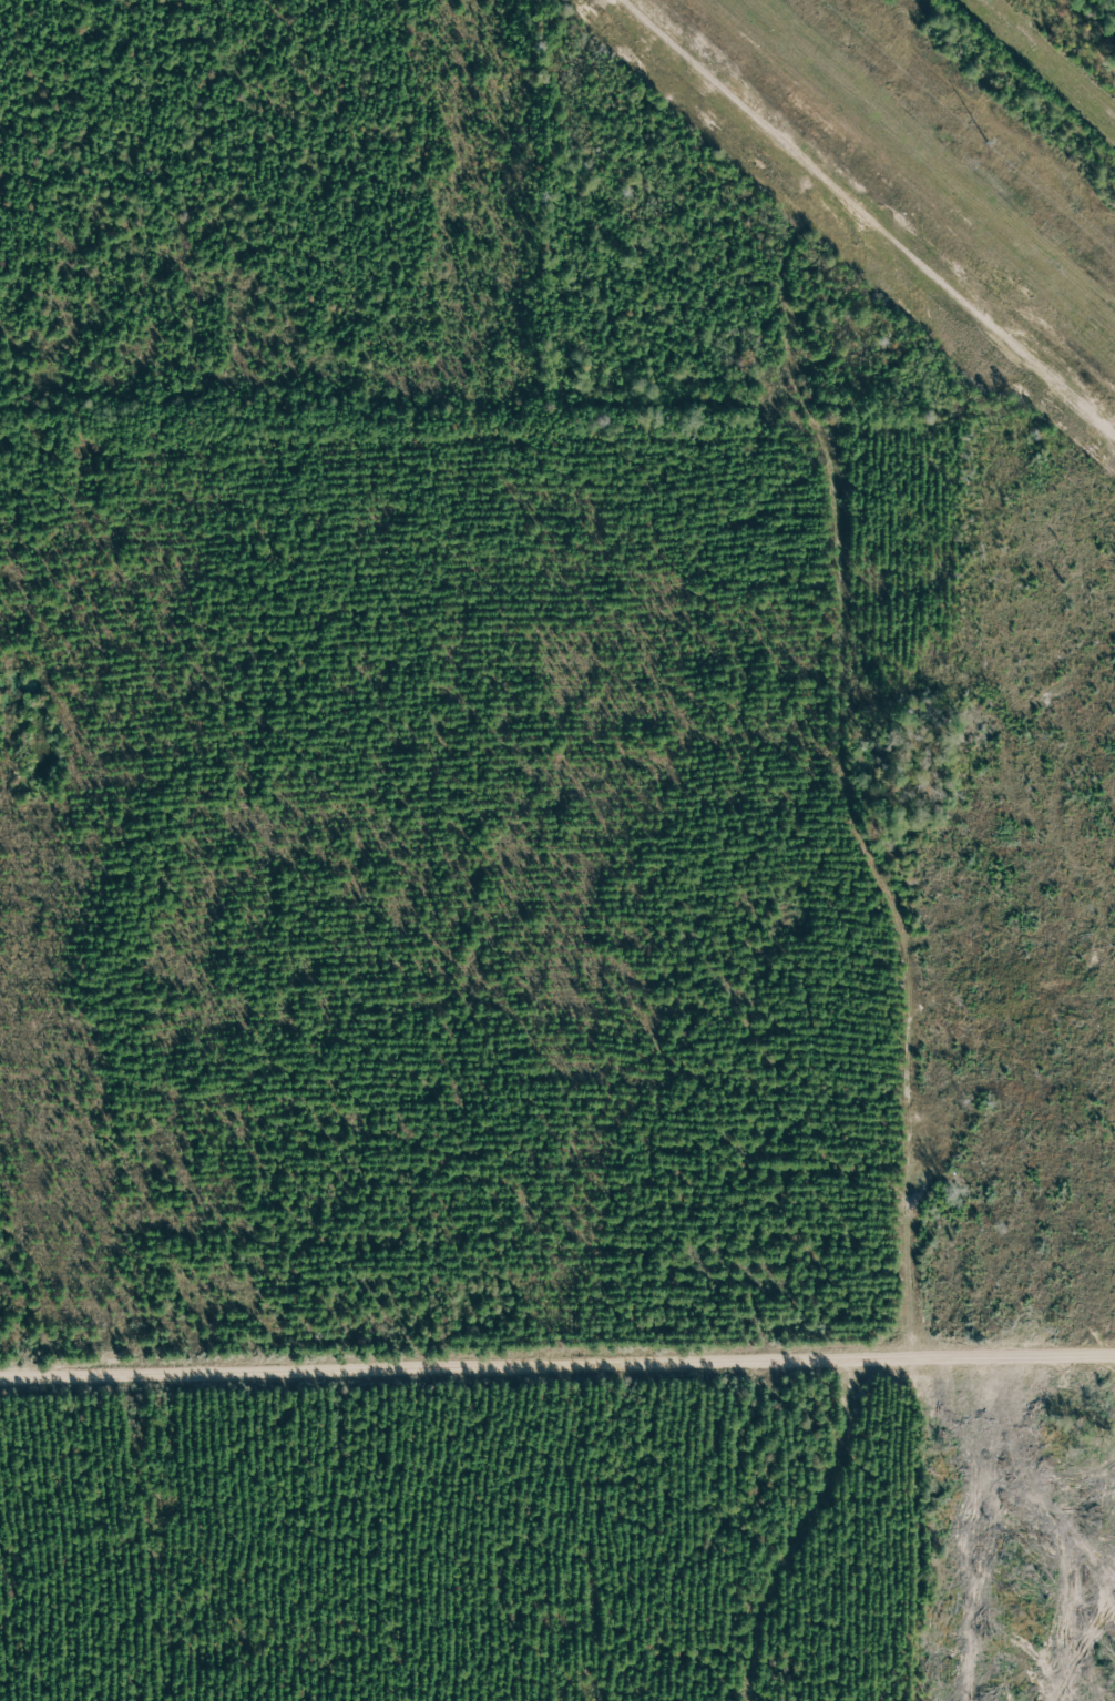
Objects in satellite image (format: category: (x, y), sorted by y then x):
power tower: (994, 149)
road: (556, 1368)

